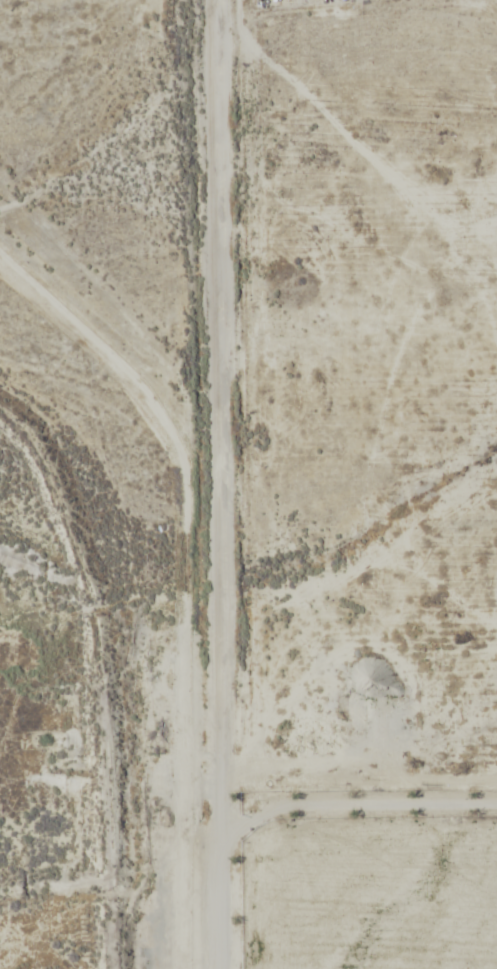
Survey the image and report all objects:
road: (319, 355)
road: (224, 484)
road: (348, 952)

